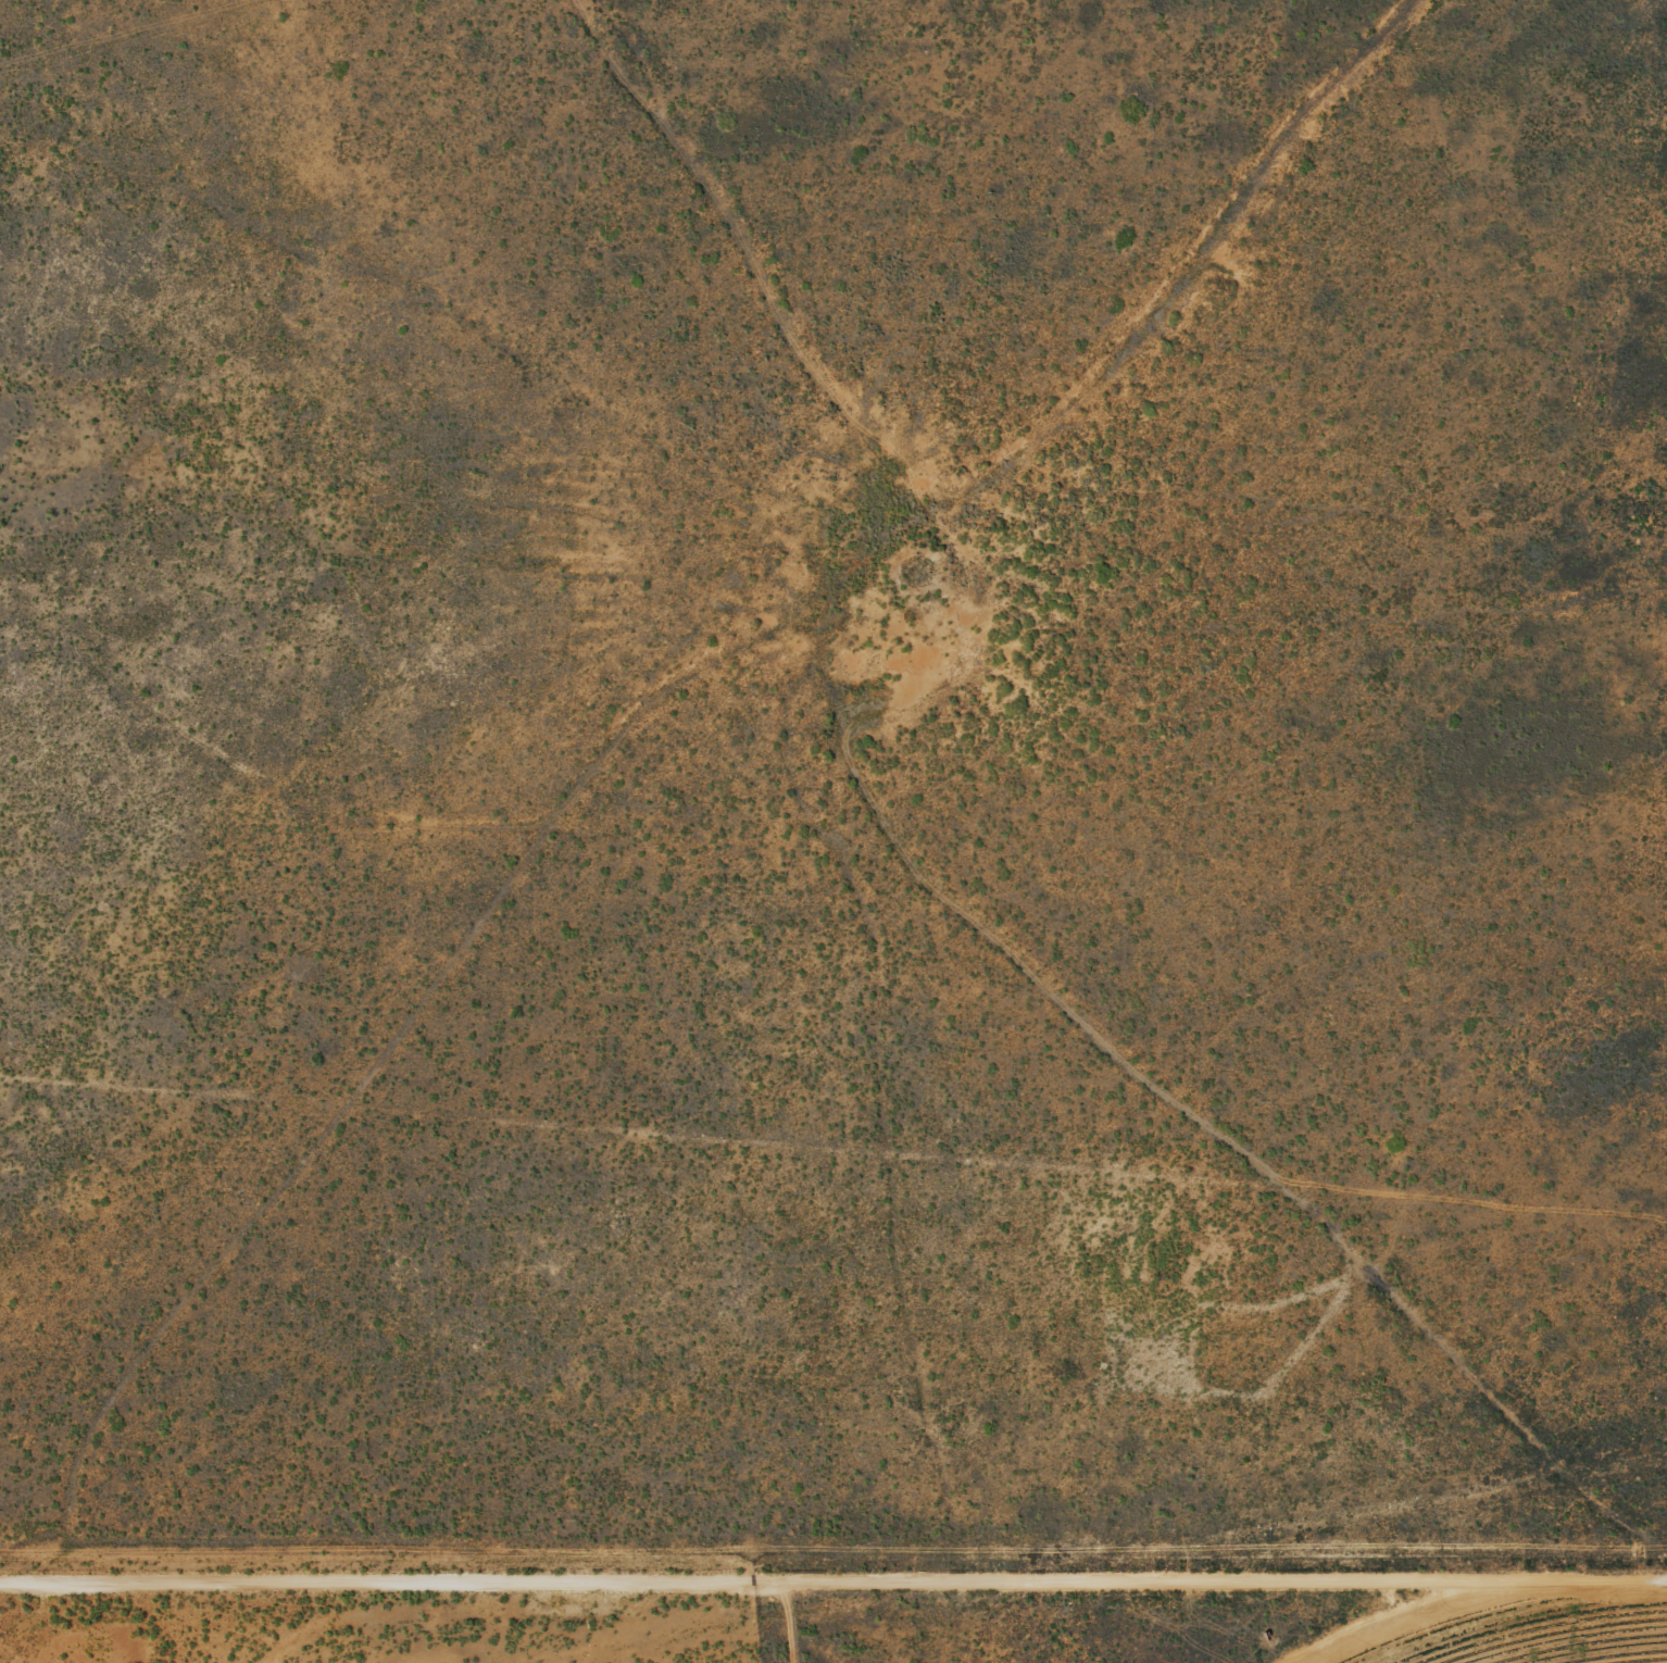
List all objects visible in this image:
road: (832, 1578)

